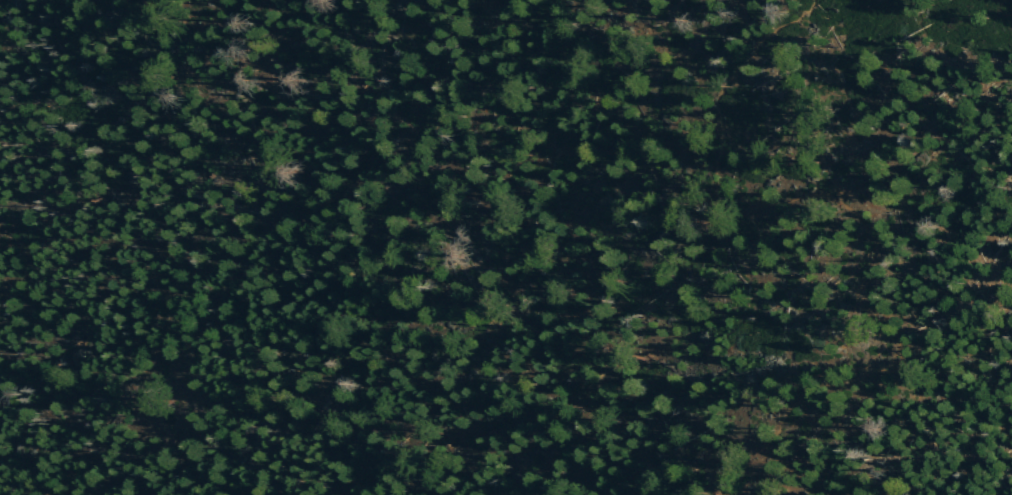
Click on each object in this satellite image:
road: (848, 211)

